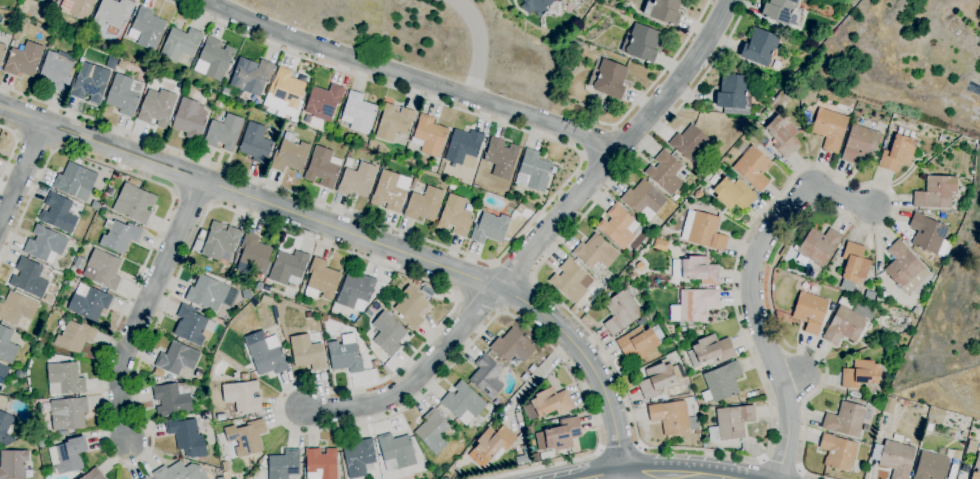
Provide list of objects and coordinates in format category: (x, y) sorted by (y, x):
building: (47, 1)
building: (536, 6)
building: (81, 8)
building: (663, 11)
building: (780, 11)
building: (112, 13)
building: (147, 28)
building: (641, 43)
building: (180, 44)
road: (481, 45)
building: (762, 49)
building: (2, 51)
building: (214, 59)
building: (23, 60)
building: (121, 64)
building: (56, 72)
road: (659, 75)
building: (252, 76)
road: (409, 78)
building: (608, 79)
building: (90, 83)
building: (287, 88)
building: (733, 92)
building: (124, 94)
building: (323, 102)
building: (220, 105)
building: (157, 109)
building: (247, 109)
building: (358, 113)
building: (189, 119)
road: (594, 120)
building: (393, 122)
building: (830, 128)
building: (223, 133)
building: (782, 135)
building: (429, 136)
building: (687, 141)
road: (35, 142)
building: (255, 143)
building: (859, 144)
building: (363, 145)
road: (12, 146)
building: (463, 148)
road: (620, 148)
building: (898, 152)
building: (289, 155)
building: (501, 158)
building: (322, 167)
building: (753, 168)
building: (434, 169)
building: (533, 171)
road: (22, 172)
building: (664, 172)
building: (74, 179)
building: (357, 180)
building: (132, 182)
building: (451, 187)
building: (389, 191)
building: (731, 192)
building: (936, 192)
building: (698, 194)
building: (675, 197)
building: (643, 200)
building: (134, 203)
building: (424, 204)
building: (94, 205)
building: (483, 209)
building: (58, 213)
building: (931, 213)
building: (455, 216)
building: (618, 227)
building: (489, 228)
building: (703, 231)
building: (202, 233)
building: (928, 235)
building: (119, 236)
road: (360, 237)
building: (220, 241)
road: (315, 241)
road: (515, 242)
building: (45, 245)
building: (198, 245)
building: (660, 245)
building: (818, 246)
building: (255, 253)
building: (595, 254)
building: (629, 255)
building: (79, 263)
building: (854, 263)
building: (937, 265)
building: (640, 267)
building: (288, 268)
building: (904, 268)
building: (102, 270)
building: (696, 270)
building: (223, 273)
building: (632, 277)
building: (29, 278)
building: (321, 280)
building: (569, 280)
building: (416, 283)
building: (259, 286)
building: (355, 290)
road: (751, 291)
building: (206, 292)
building: (49, 299)
building: (266, 301)
building: (89, 304)
building: (693, 305)
road: (144, 307)
building: (17, 308)
building: (411, 308)
building: (621, 312)
building: (809, 312)
building: (308, 315)
building: (652, 315)
building: (641, 321)
building: (192, 326)
building: (844, 326)
building: (682, 330)
building: (388, 334)
building: (74, 337)
building: (640, 342)
building: (887, 344)
building: (7, 345)
building: (512, 346)
building: (710, 350)
building: (307, 352)
building: (265, 354)
building: (345, 355)
building: (379, 355)
building: (176, 358)
road: (754, 365)
building: (3, 373)
building: (860, 374)
building: (20, 375)
building: (198, 375)
building: (486, 376)
building: (244, 377)
road: (536, 377)
road: (415, 378)
building: (64, 379)
building: (656, 379)
building: (155, 380)
building: (721, 382)
building: (242, 397)
building: (171, 400)
building: (462, 403)
building: (548, 403)
building: (902, 403)
building: (889, 405)
building: (67, 413)
building: (220, 417)
building: (672, 418)
building: (846, 420)
building: (733, 421)
building: (932, 421)
building: (4, 424)
building: (929, 427)
building: (433, 432)
building: (558, 435)
building: (187, 437)
building: (246, 437)
building: (41, 443)
building: (491, 445)
building: (704, 445)
road: (619, 447)
building: (395, 452)
building: (838, 452)
building: (894, 455)
building: (67, 456)
building: (535, 457)
building: (359, 458)
building: (521, 459)
building: (13, 464)
building: (284, 464)
building: (321, 464)
building: (931, 466)
building: (976, 468)
building: (181, 472)
building: (93, 474)
road: (612, 476)
road: (669, 476)
building: (143, 478)
building: (145, 478)
building: (220, 478)

